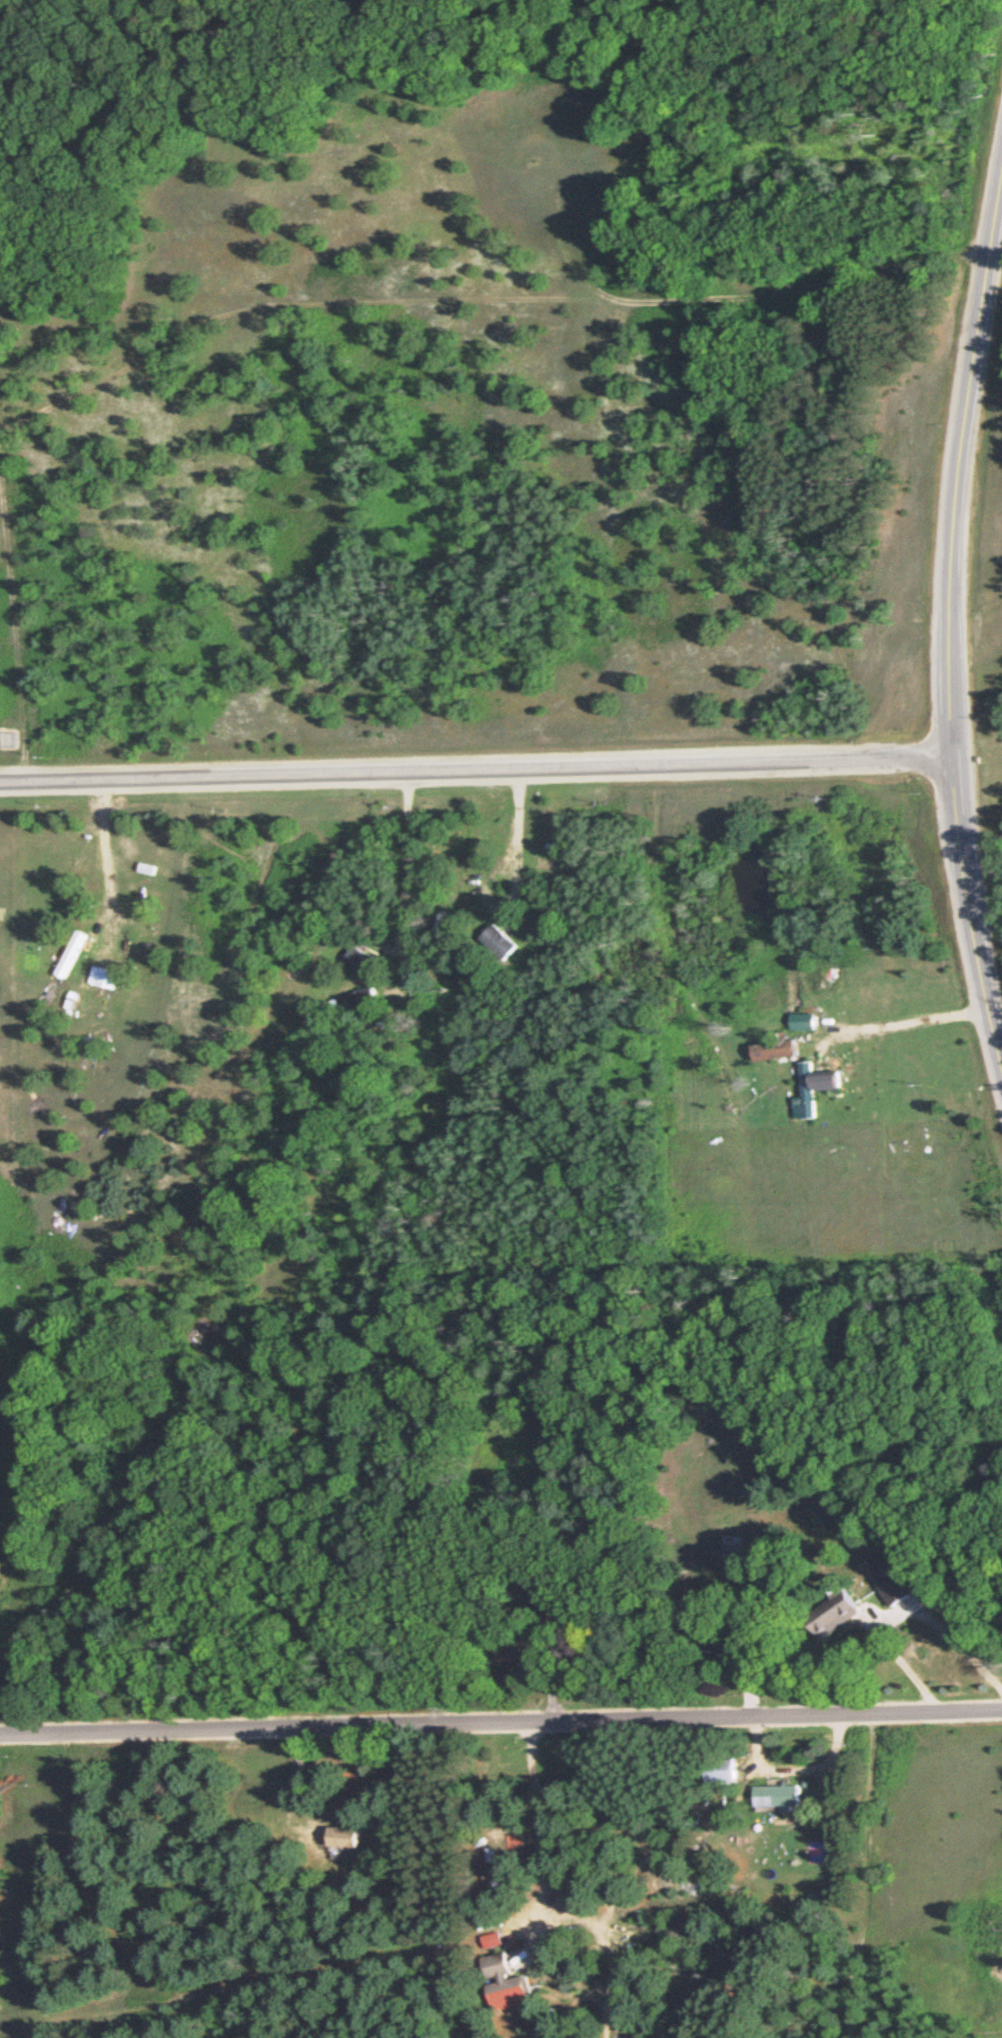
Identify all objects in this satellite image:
road: (957, 470)
road: (527, 768)
road: (51, 780)
road: (104, 848)
building: (84, 859)
road: (971, 905)
building: (506, 942)
building: (74, 954)
building: (363, 960)
building: (105, 976)
building: (368, 998)
building: (809, 1021)
building: (782, 1048)
building: (834, 1079)
building: (812, 1089)
building: (901, 1590)
building: (836, 1611)
building: (734, 1642)
building: (520, 1651)
road: (500, 1717)
building: (727, 1771)
building: (784, 1796)
building: (348, 1838)
building: (519, 1850)
building: (496, 1939)
building: (508, 1983)

